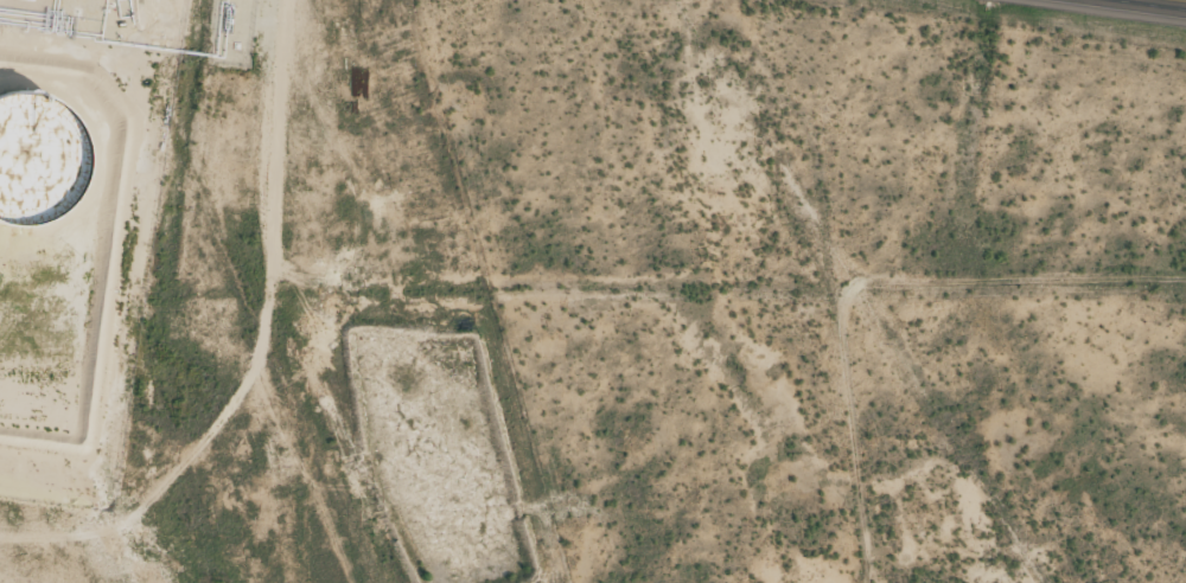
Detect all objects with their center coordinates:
road: (1143, 5)
silo: (32, 132)

